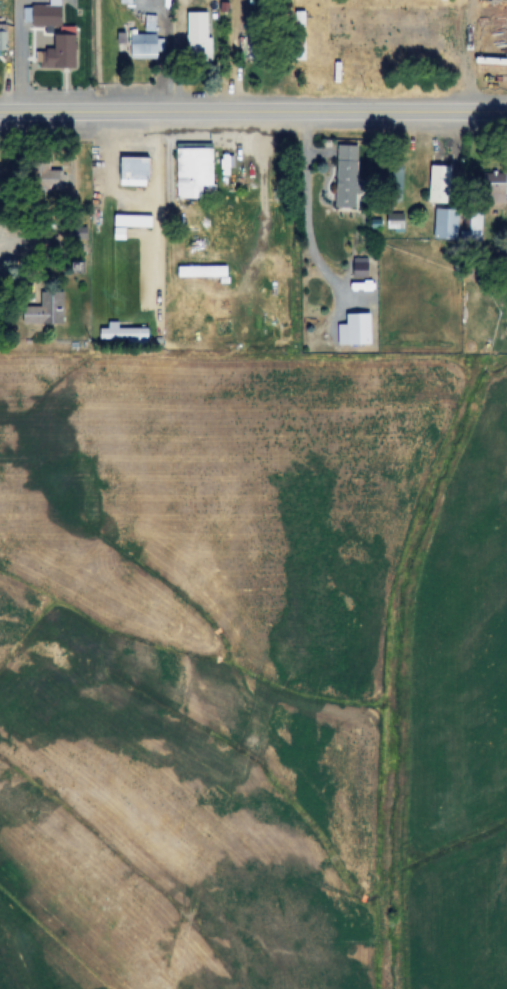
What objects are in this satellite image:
building: (446, 0)
building: (126, 1)
building: (359, 1)
building: (47, 15)
building: (258, 35)
building: (299, 36)
building: (199, 37)
building: (3, 39)
building: (145, 46)
building: (60, 53)
road: (253, 111)
building: (135, 171)
building: (195, 173)
building: (348, 176)
building: (46, 177)
building: (440, 185)
building: (496, 192)
road: (158, 198)
road: (306, 209)
building: (446, 225)
building: (131, 226)
building: (202, 272)
building: (46, 311)
building: (356, 330)

